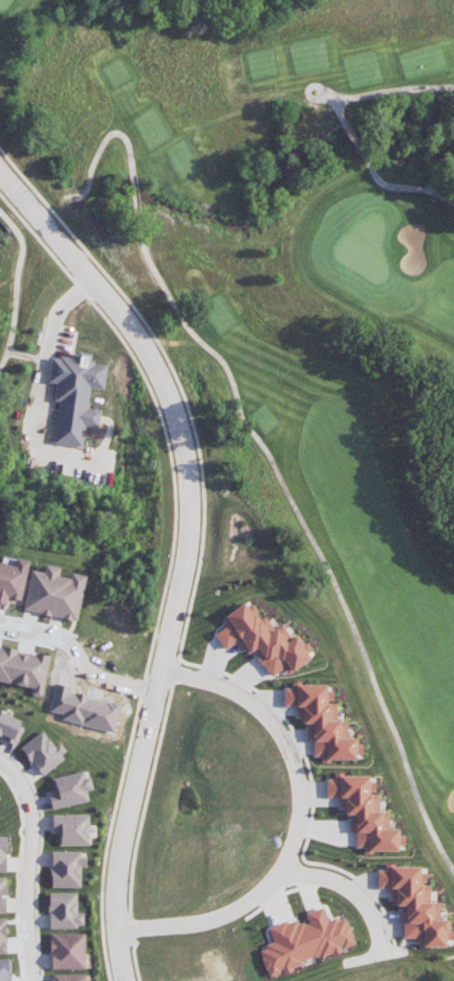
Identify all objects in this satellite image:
road: (312, 86)
road: (395, 91)
road: (339, 112)
road: (351, 135)
road: (105, 141)
road: (398, 188)
road: (135, 198)
park: (275, 279)
road: (16, 287)
building: (75, 395)
road: (307, 530)
road: (185, 548)
building: (11, 581)
building: (54, 593)
building: (262, 641)
road: (78, 656)
building: (23, 668)
building: (320, 721)
building: (10, 727)
building: (43, 752)
building: (70, 789)
building: (0, 800)
building: (362, 812)
road: (296, 823)
building: (72, 828)
building: (3, 853)
road: (30, 865)
building: (67, 868)
road: (350, 890)
building: (3, 894)
building: (414, 905)
building: (64, 910)
building: (3, 935)
building: (304, 941)
building: (67, 950)
building: (4, 969)
building: (69, 977)

